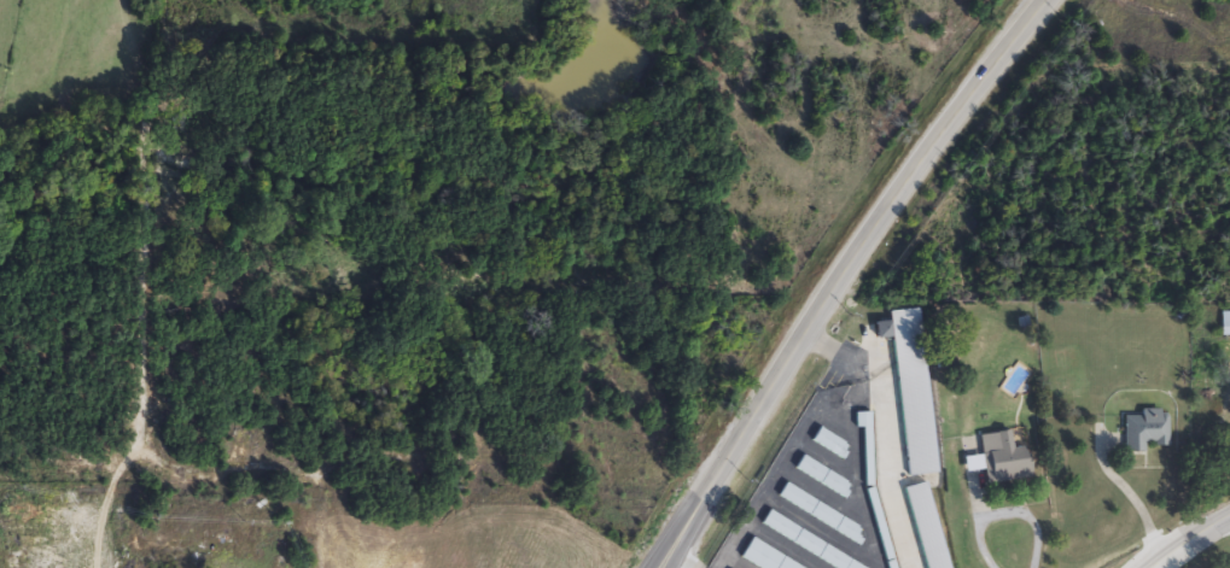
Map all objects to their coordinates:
road: (851, 280)
building: (1226, 324)
building: (910, 390)
road: (846, 399)
building: (945, 412)
building: (1144, 432)
road: (885, 433)
building: (865, 440)
building: (829, 445)
building: (1004, 461)
road: (857, 478)
building: (823, 479)
road: (765, 490)
road: (1130, 493)
road: (1009, 508)
building: (820, 515)
building: (878, 517)
building: (927, 527)
road: (1188, 540)
building: (760, 558)
building: (835, 560)

